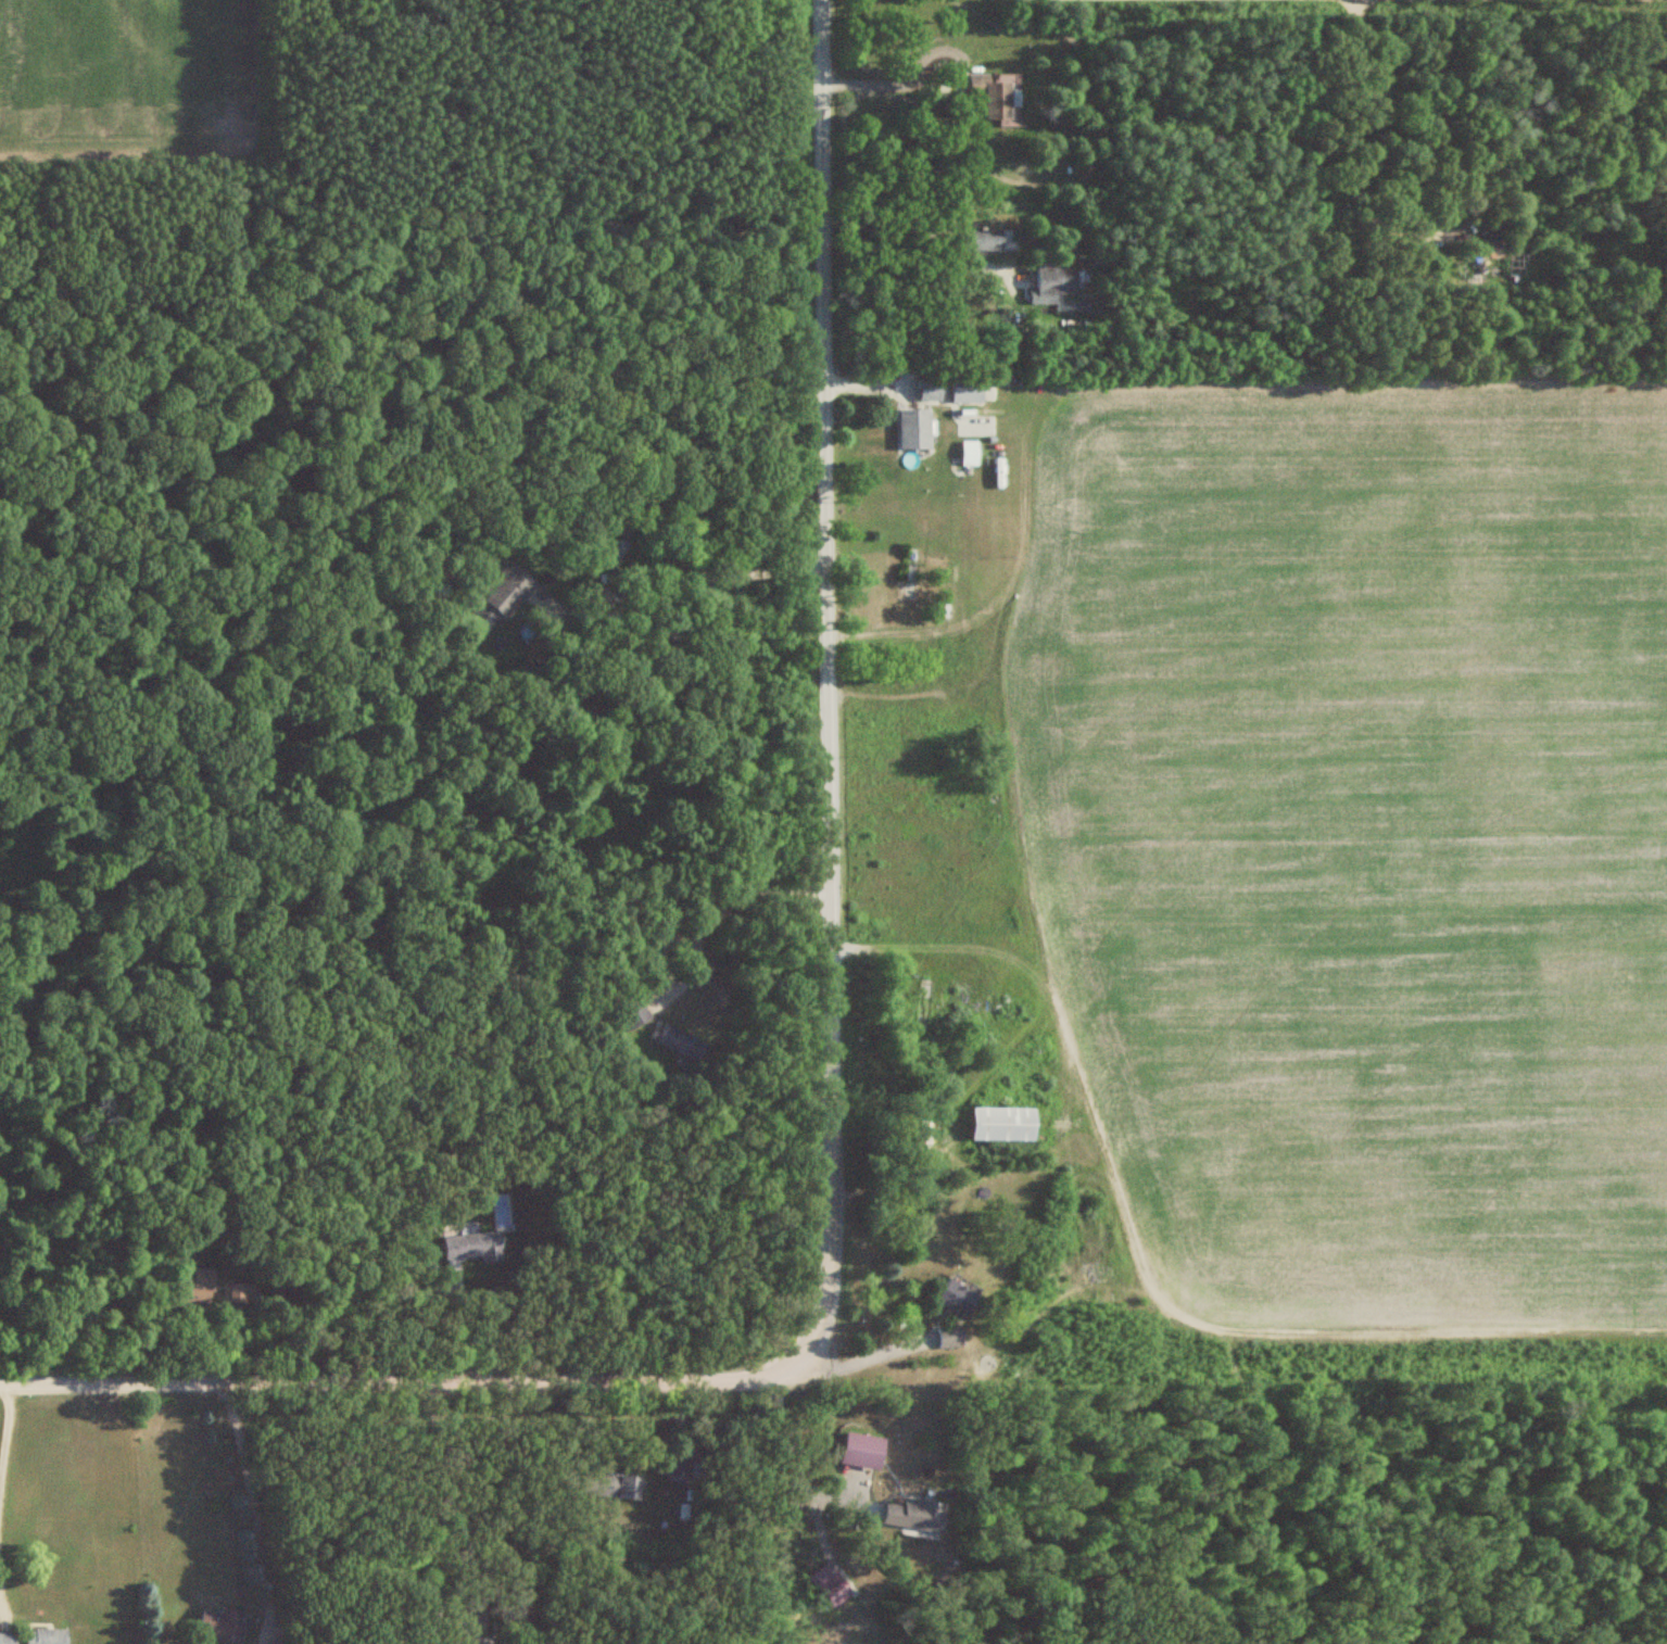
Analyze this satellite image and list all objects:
road: (923, 79)
building: (997, 96)
building: (1494, 235)
building: (987, 240)
building: (1056, 281)
building: (930, 390)
building: (968, 391)
building: (914, 427)
road: (1192, 478)
building: (621, 546)
building: (912, 574)
road: (689, 589)
building: (500, 599)
road: (828, 682)
road: (687, 932)
building: (629, 1006)
building: (924, 1006)
building: (679, 1041)
building: (1003, 1123)
building: (471, 1245)
building: (194, 1288)
building: (241, 1293)
building: (955, 1298)
building: (949, 1337)
road: (870, 1353)
road: (622, 1381)
road: (5, 1422)
road: (793, 1450)
building: (861, 1450)
building: (610, 1484)
road: (253, 1507)
road: (480, 1514)
building: (913, 1515)
building: (831, 1584)
building: (465, 1623)
building: (223, 1626)
building: (46, 1636)
building: (8, 1637)

